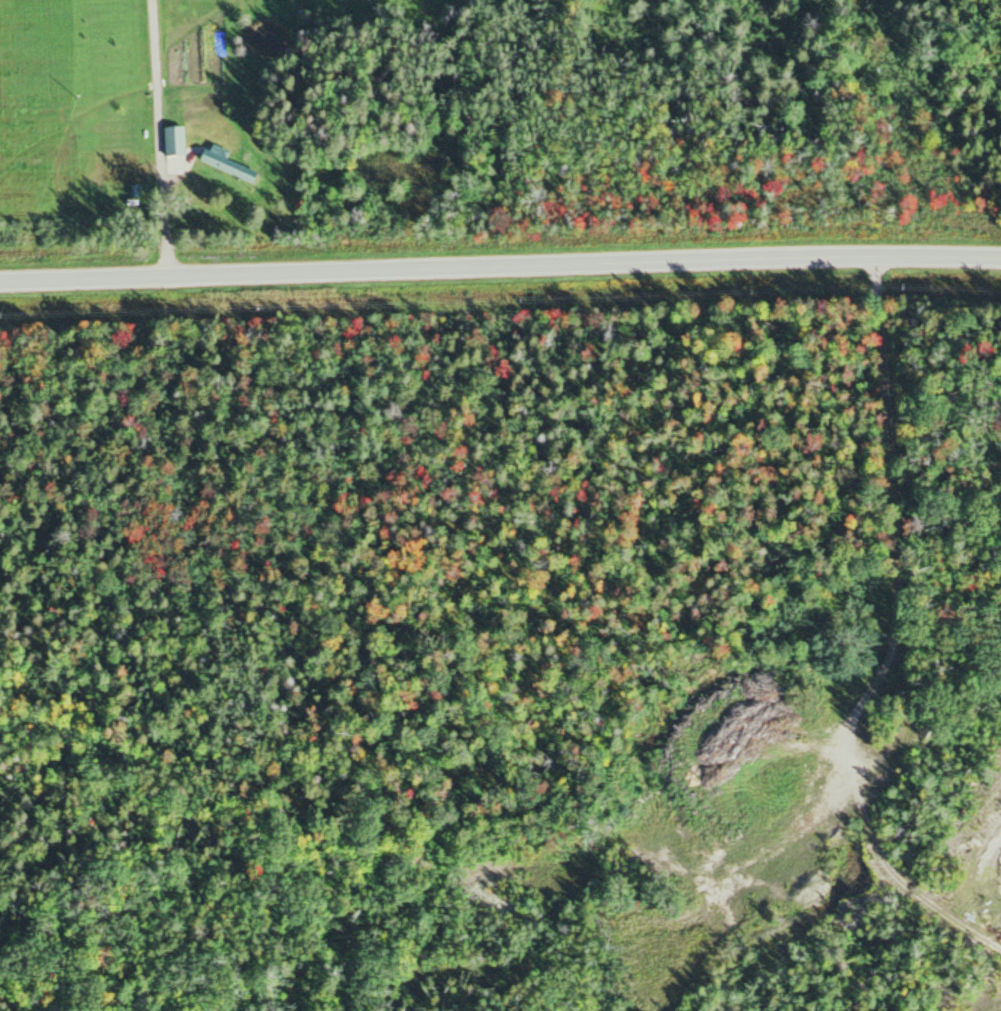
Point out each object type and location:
road: (160, 135)
building: (173, 143)
building: (225, 165)
road: (500, 262)

